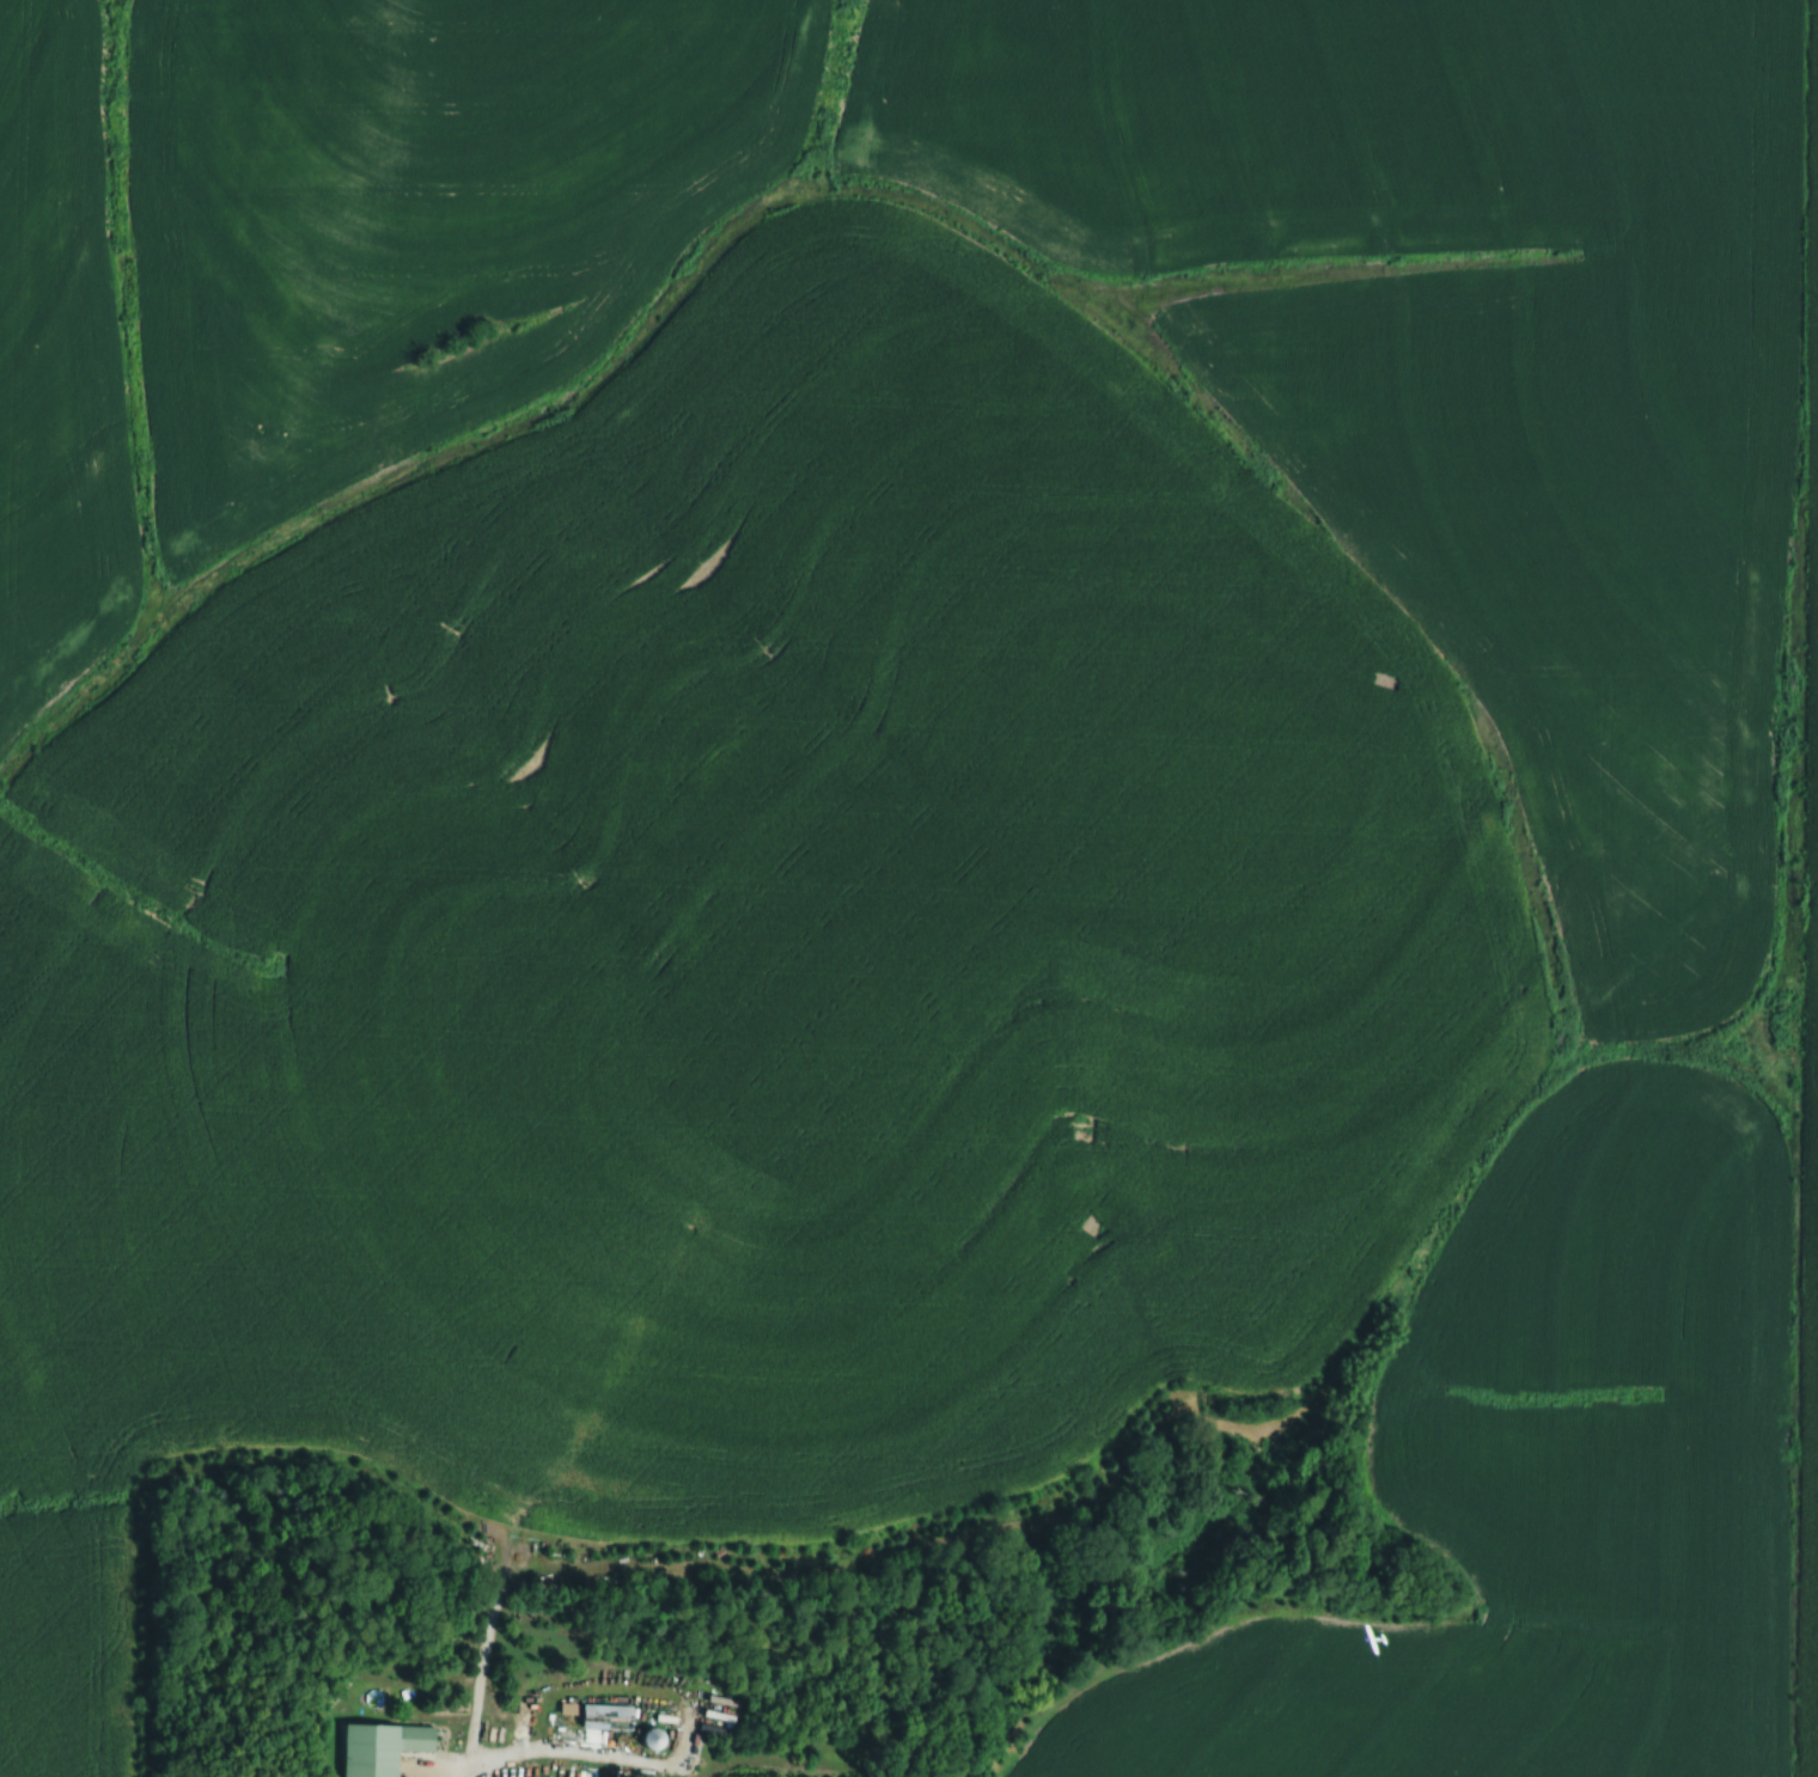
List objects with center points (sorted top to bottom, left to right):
building: (602, 1718)
building: (643, 1741)
building: (374, 1748)
road: (520, 1755)

